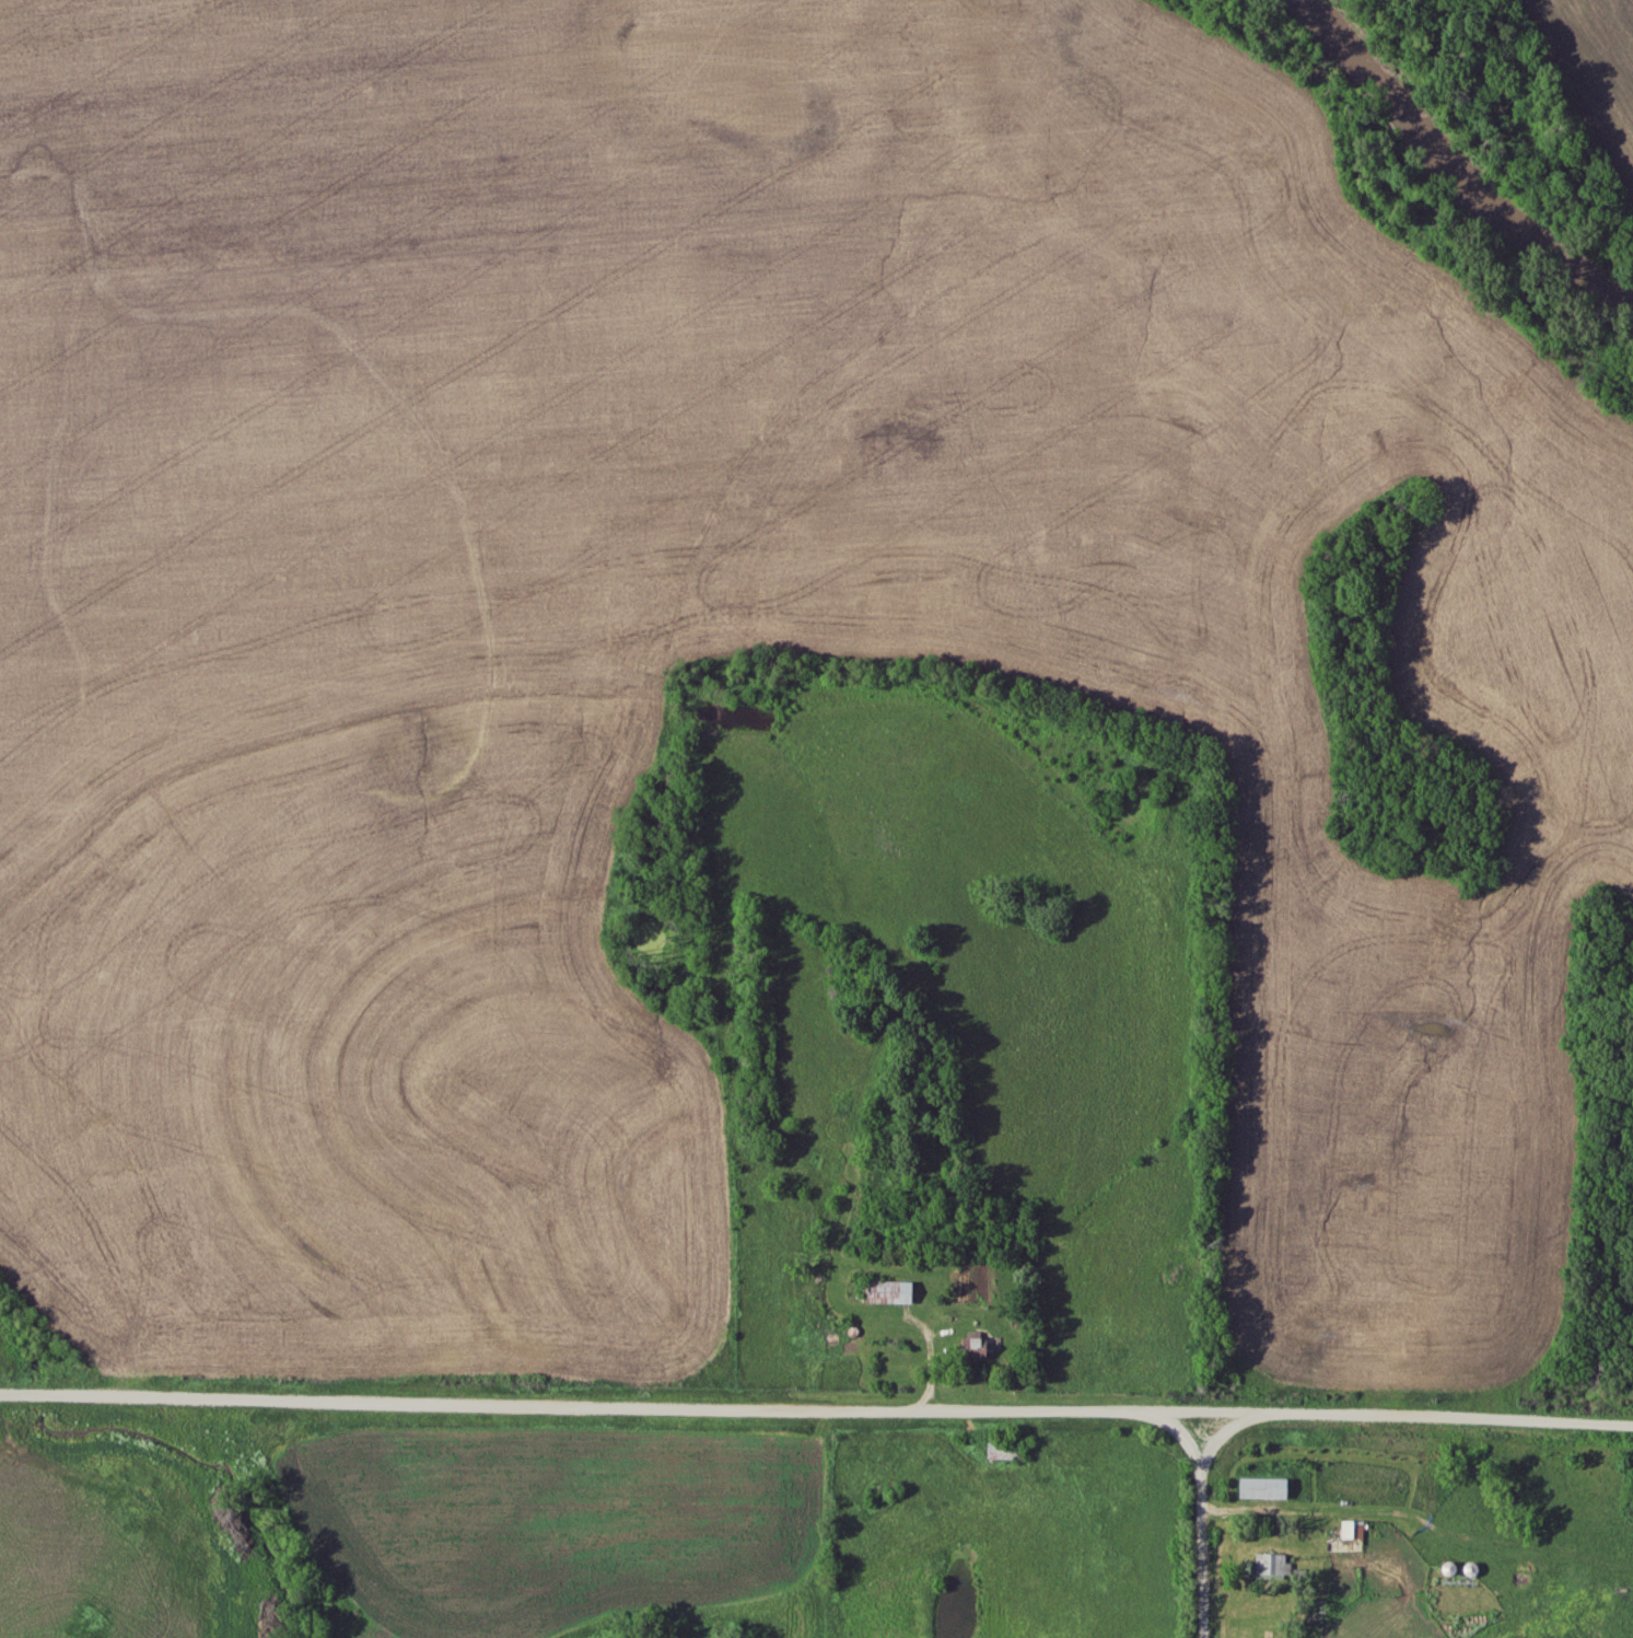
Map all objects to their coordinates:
building: (889, 1291)
building: (975, 1346)
road: (626, 1403)
road: (1443, 1416)
road: (1179, 1432)
building: (1002, 1451)
building: (1262, 1487)
road: (1200, 1513)
building: (1352, 1529)
building: (1272, 1564)

